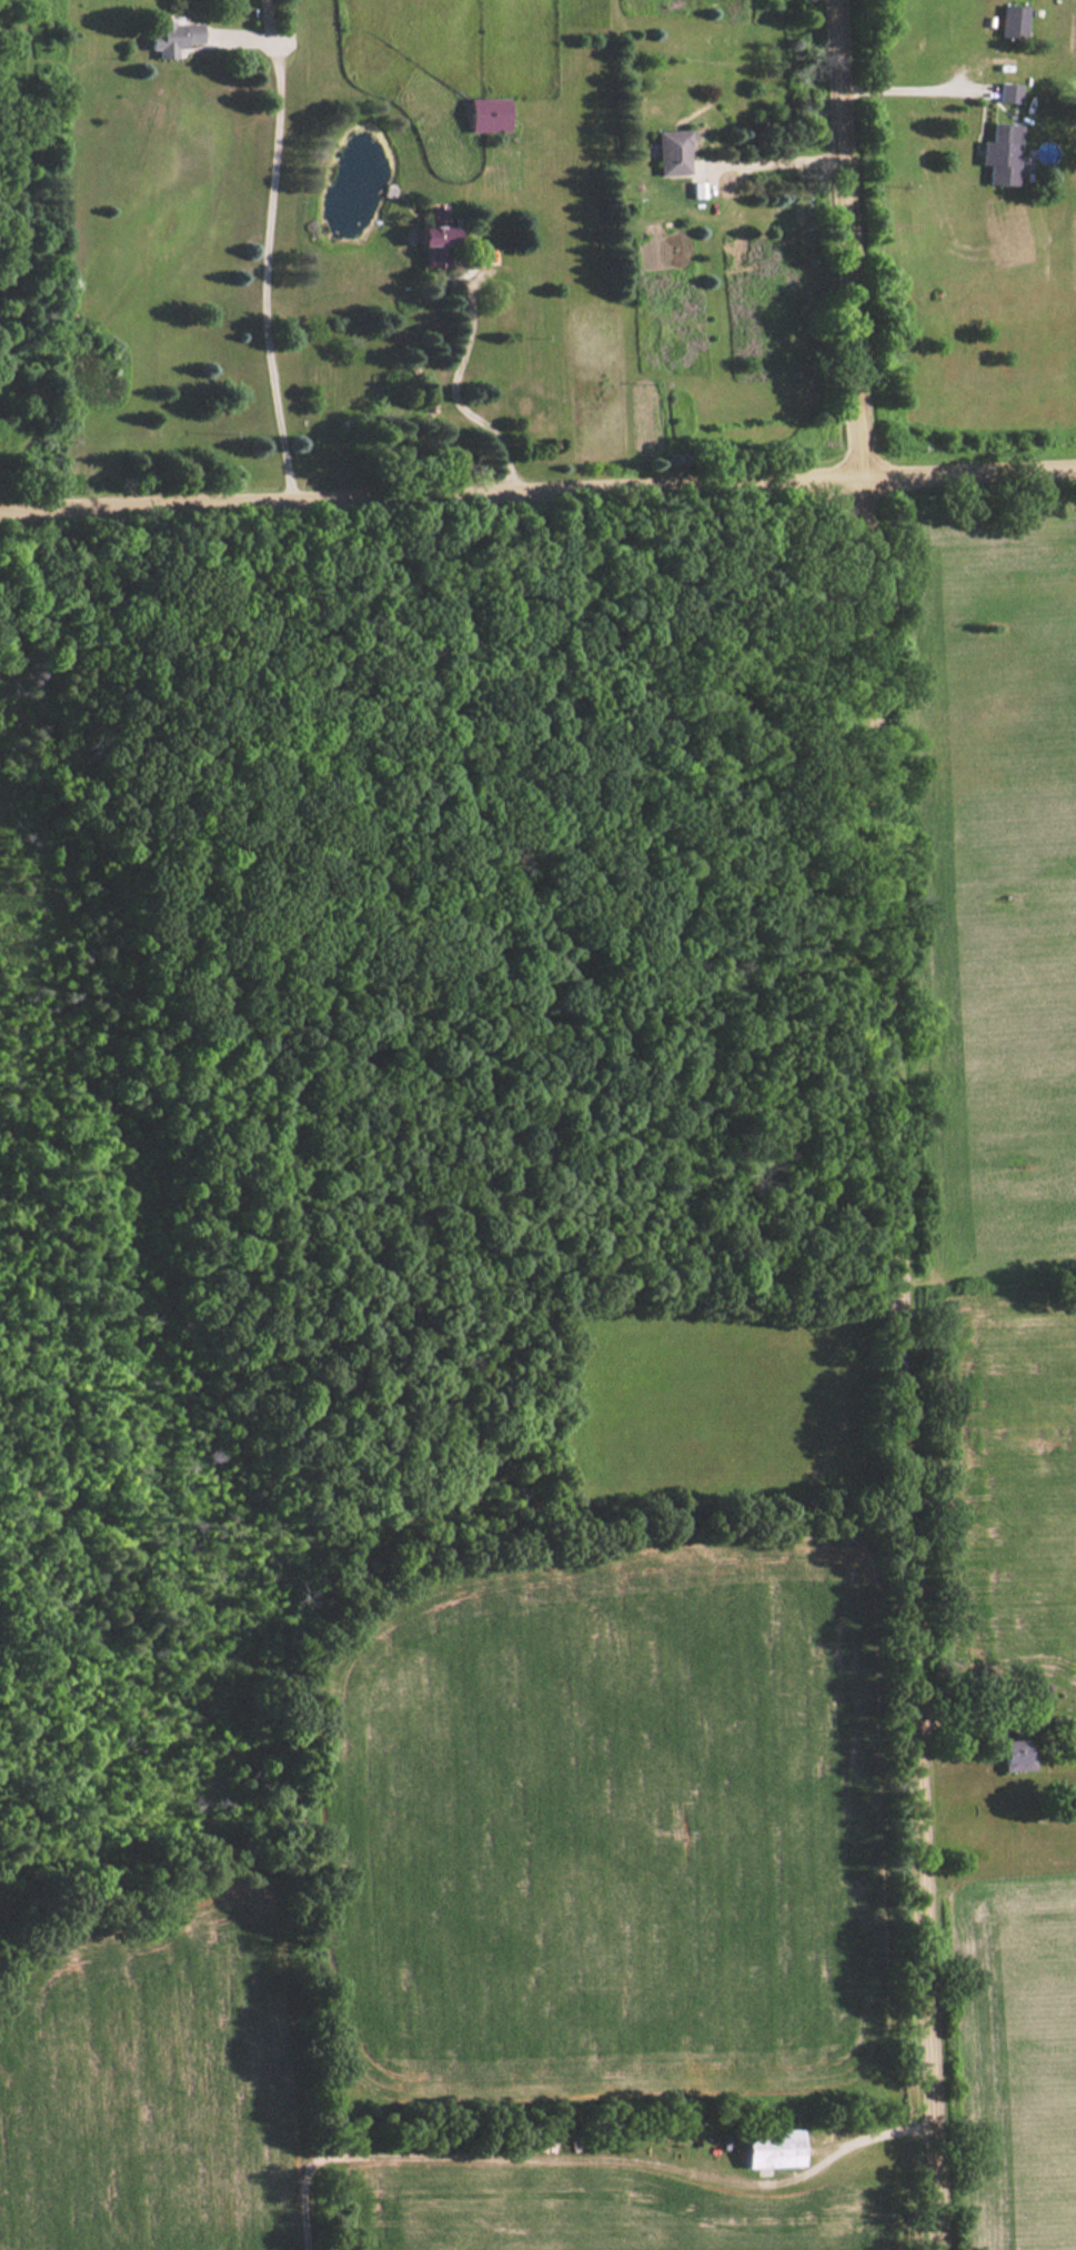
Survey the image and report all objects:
building: (1009, 20)
building: (172, 36)
road: (909, 83)
building: (1004, 91)
building: (484, 113)
building: (670, 151)
building: (997, 153)
road: (774, 158)
road: (271, 242)
building: (430, 242)
building: (502, 311)
road: (454, 388)
road: (537, 480)
road: (889, 1125)
building: (1018, 1754)
road: (845, 2140)
building: (774, 2147)

